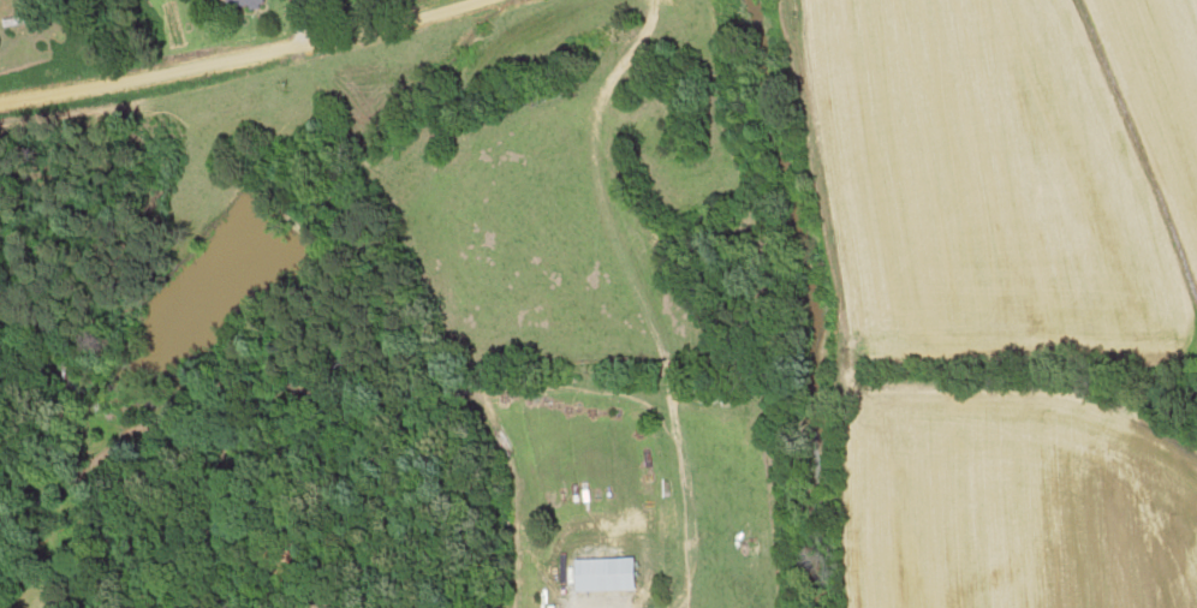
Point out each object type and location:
building: (239, 4)
road: (246, 54)

